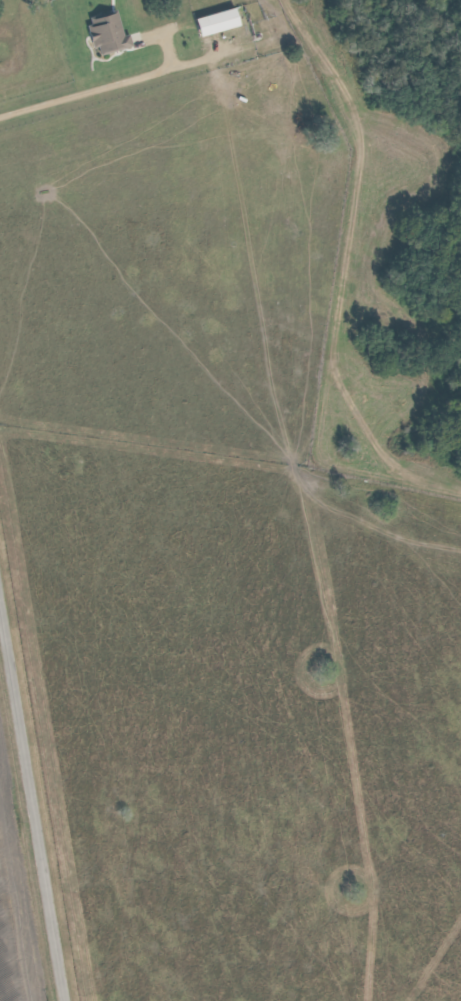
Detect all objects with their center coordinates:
building: (219, 23)
building: (109, 33)
road: (33, 794)

